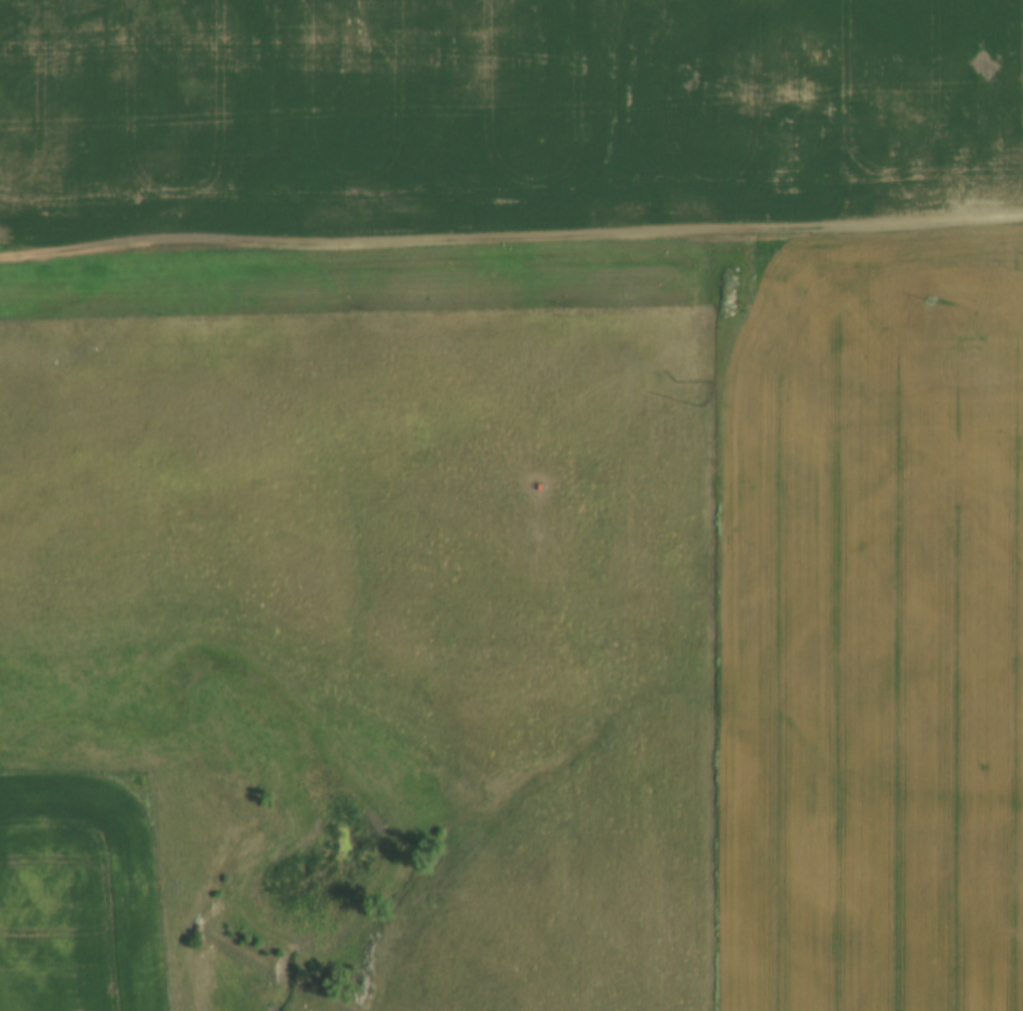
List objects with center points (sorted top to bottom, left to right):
building: (815, 52)
road: (511, 243)

